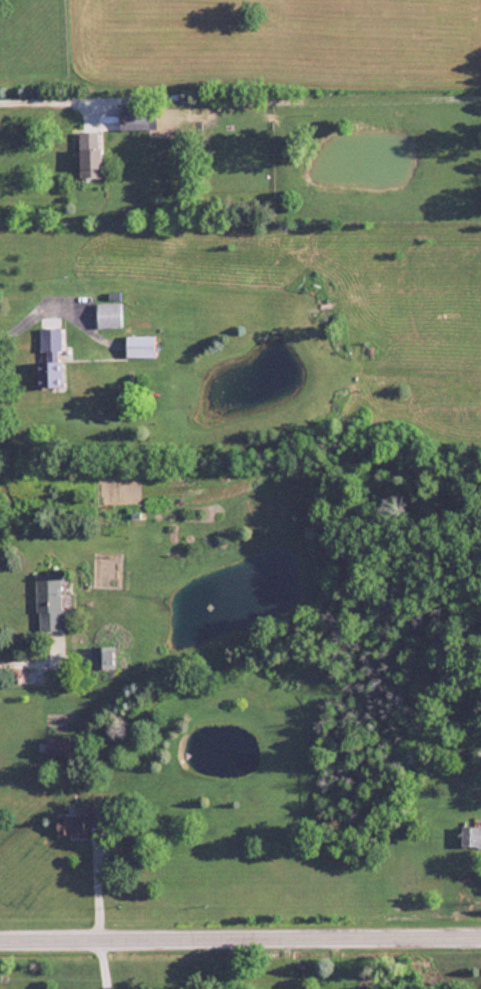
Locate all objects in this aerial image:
road: (46, 100)
building: (134, 117)
building: (90, 154)
building: (108, 313)
building: (139, 345)
building: (49, 356)
building: (49, 600)
building: (100, 656)
road: (28, 661)
building: (56, 746)
building: (76, 823)
road: (240, 935)
road: (99, 962)

